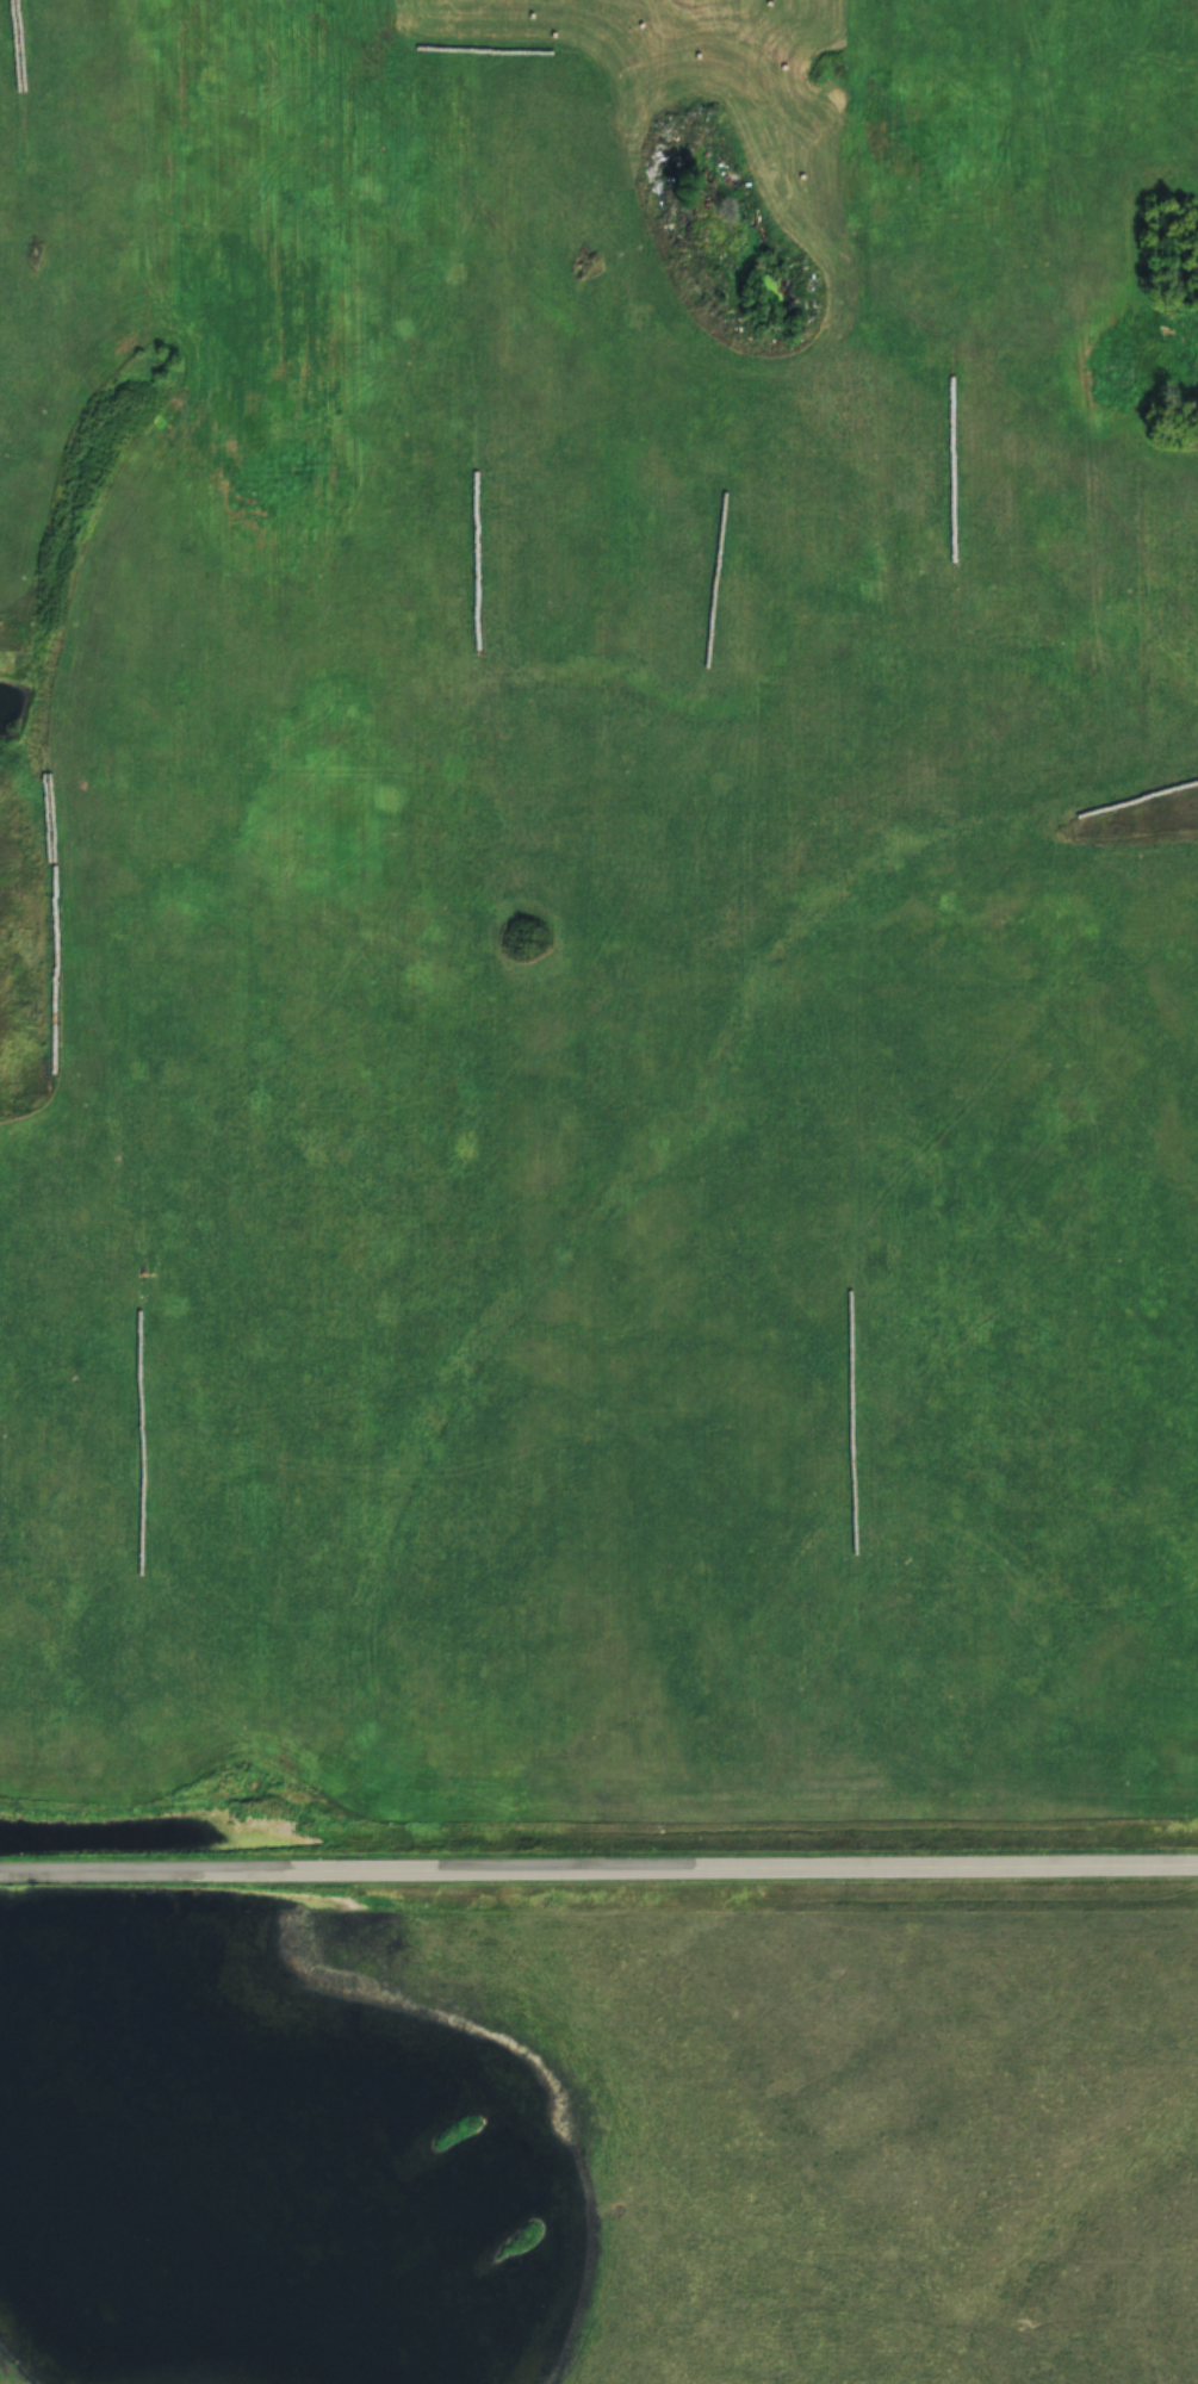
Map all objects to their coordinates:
road: (598, 1865)

